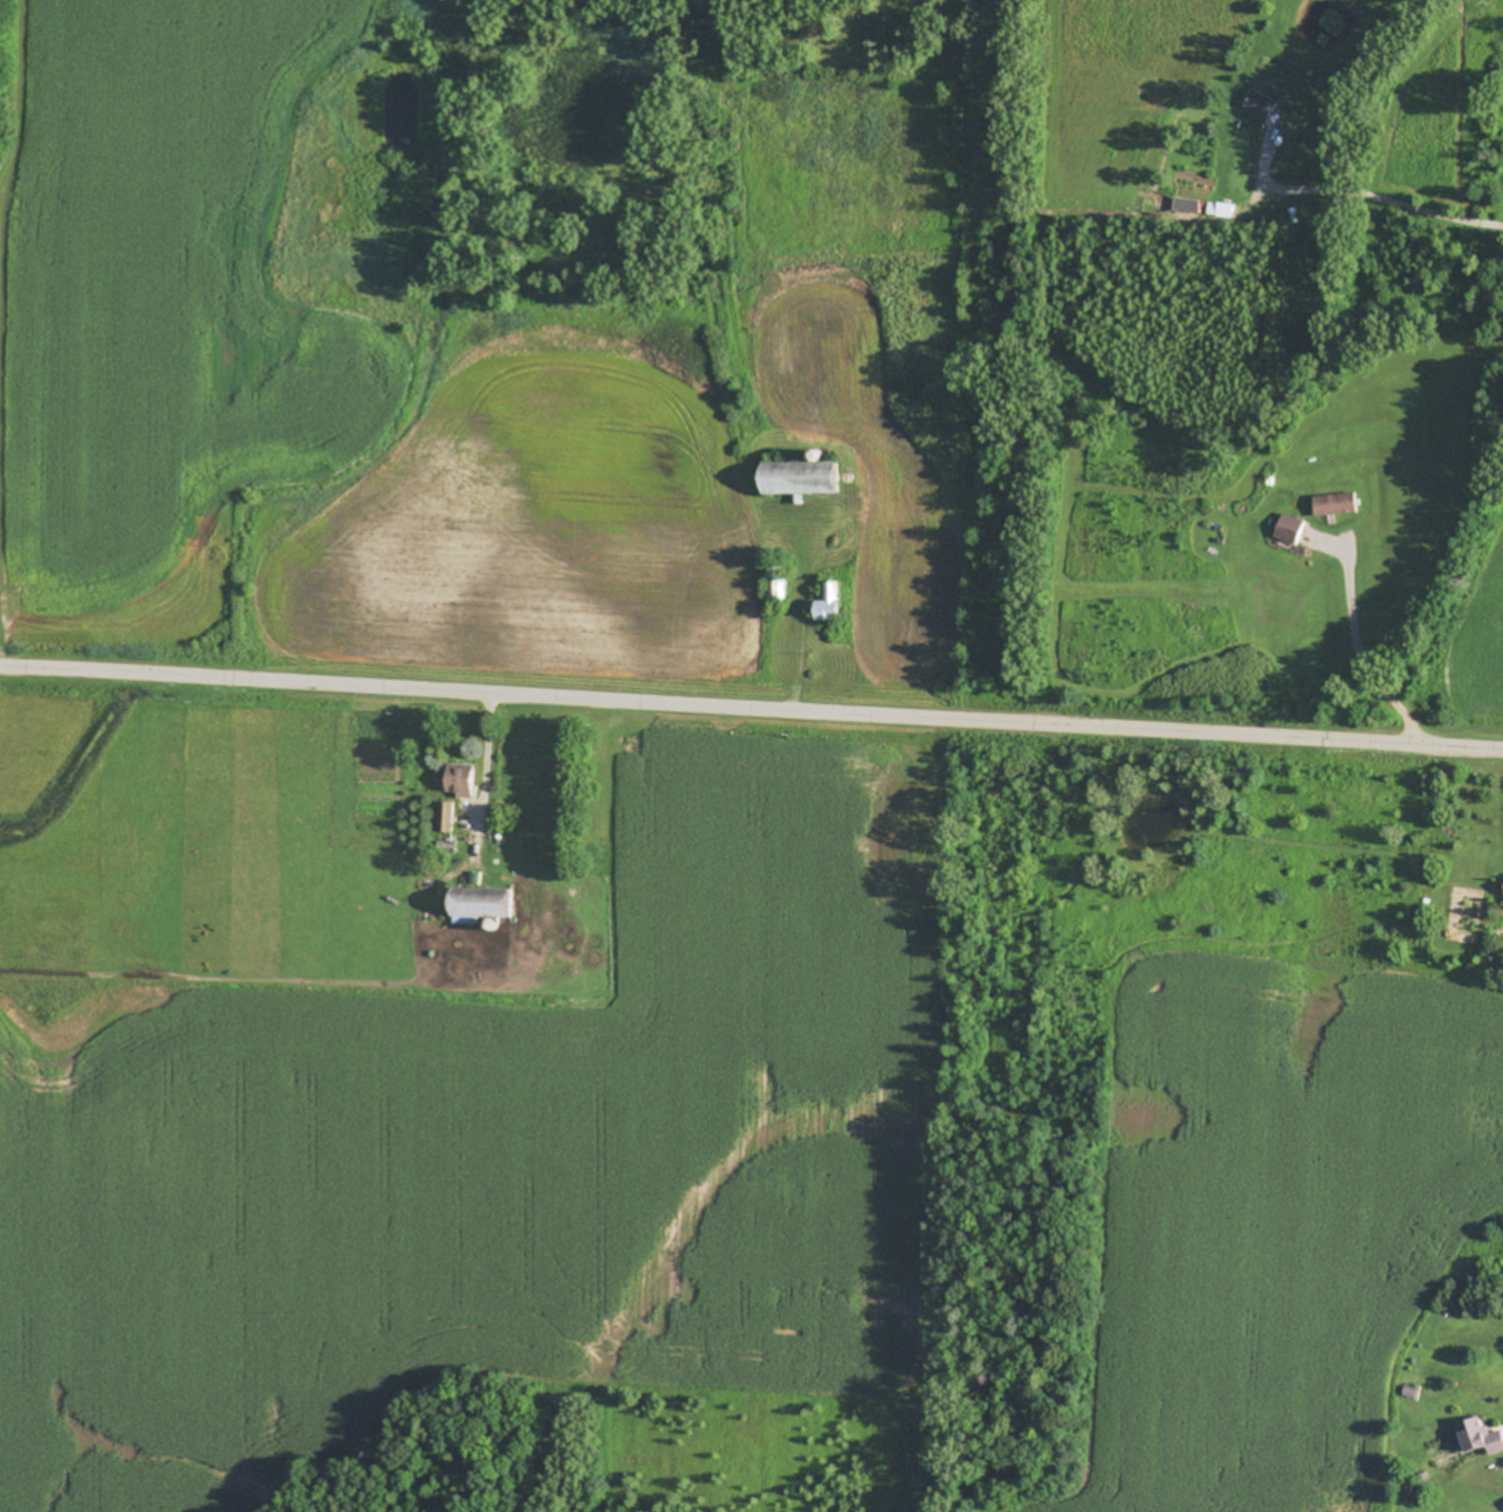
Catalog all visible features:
building: (1263, 104)
road: (1387, 196)
building: (1190, 204)
building: (1223, 208)
building: (1278, 218)
building: (747, 328)
building: (819, 453)
building: (802, 479)
building: (1272, 480)
building: (1338, 502)
building: (1291, 527)
building: (778, 578)
building: (832, 597)
road: (751, 706)
building: (461, 777)
building: (448, 816)
building: (483, 901)
building: (1428, 907)
building: (496, 923)
building: (1450, 1303)
building: (1412, 1390)
building: (1482, 1436)

